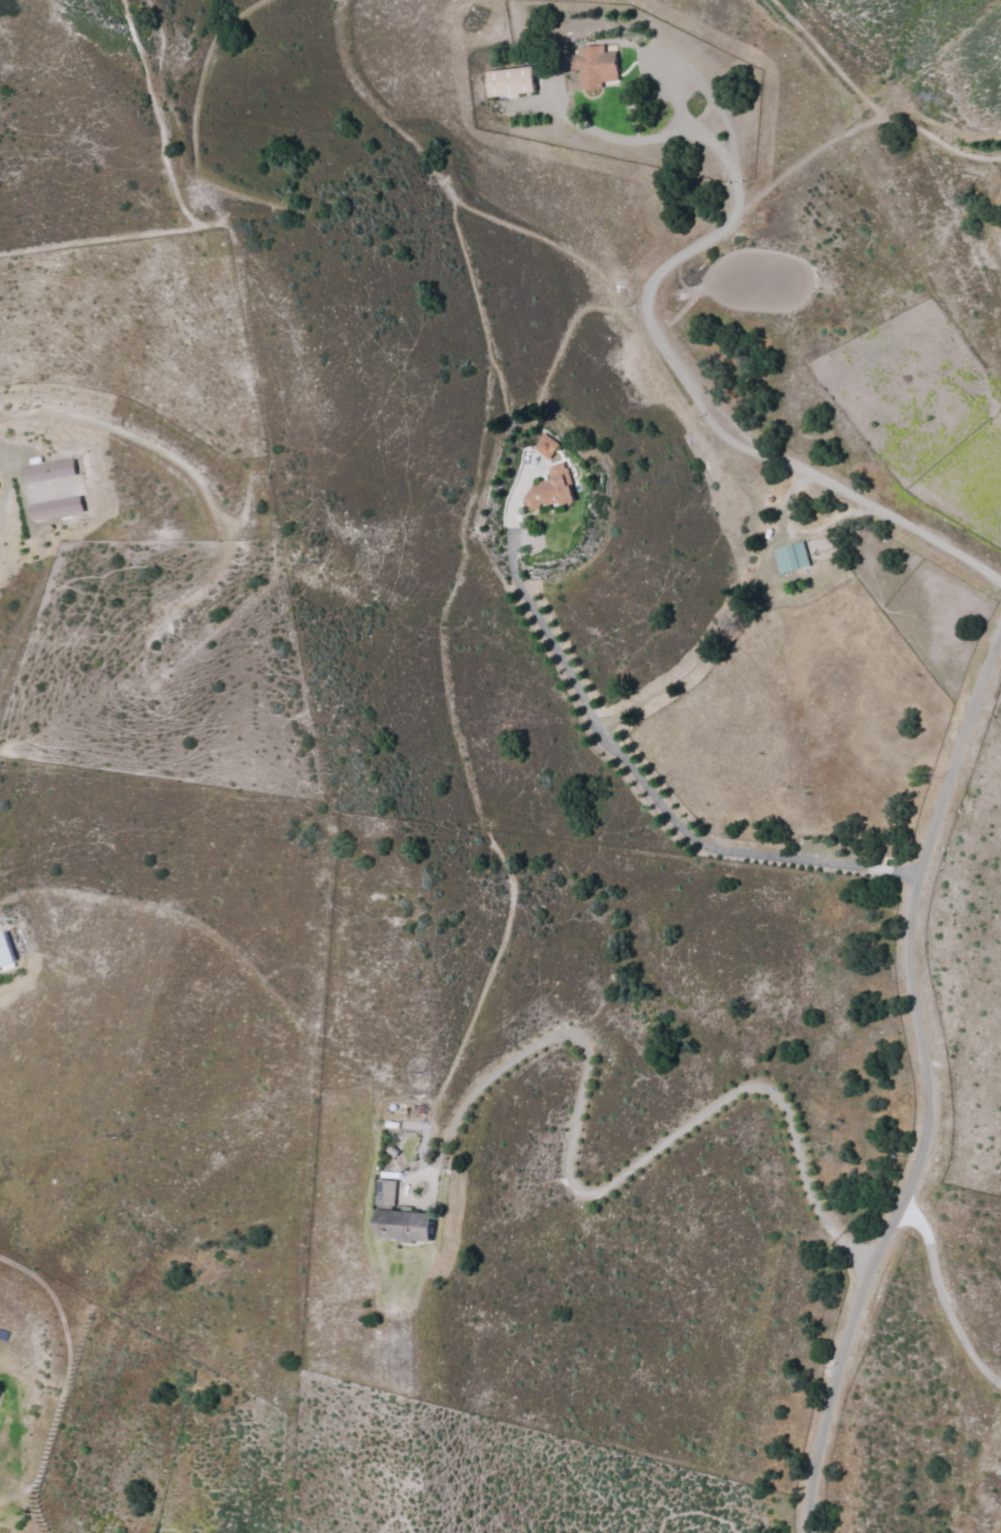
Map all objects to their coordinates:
building: (595, 66)
building: (510, 81)
road: (995, 212)
building: (546, 446)
building: (47, 471)
building: (551, 489)
building: (54, 508)
road: (855, 554)
building: (791, 558)
road: (802, 821)
building: (5, 952)
road: (927, 1083)
building: (386, 1193)
building: (405, 1226)

